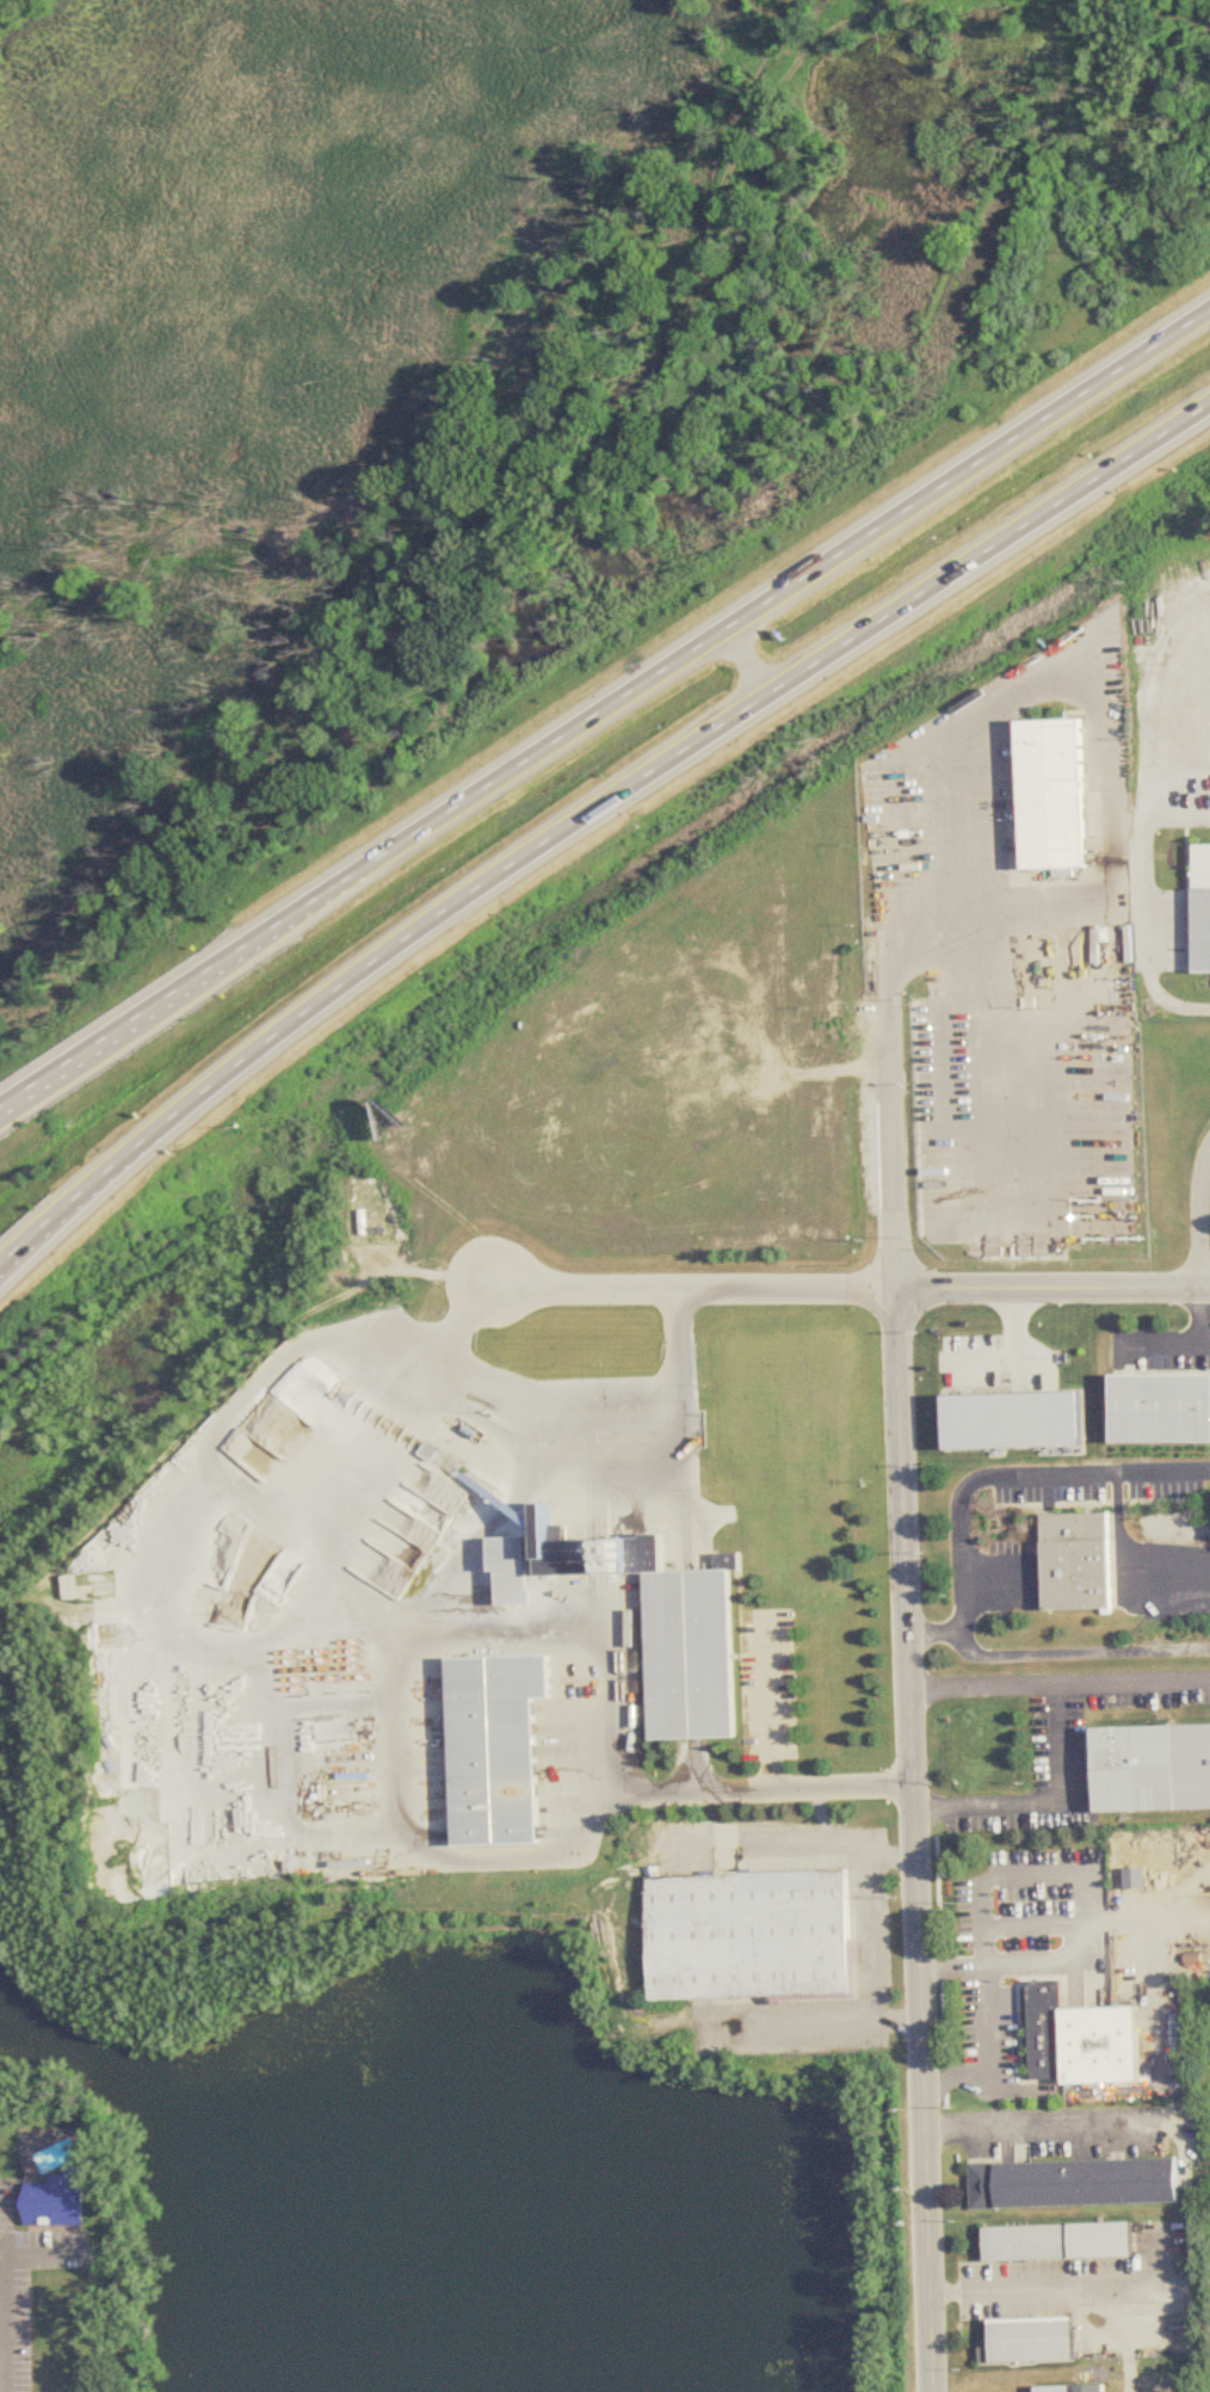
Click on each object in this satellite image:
road: (751, 660)
road: (604, 708)
road: (975, 726)
building: (1054, 796)
road: (589, 814)
road: (1144, 905)
building: (1203, 910)
building: (365, 1216)
road: (1203, 1226)
road: (893, 1251)
road: (693, 1289)
road: (1051, 1289)
road: (1199, 1345)
road: (1019, 1352)
building: (297, 1382)
road: (568, 1405)
building: (1161, 1410)
building: (1012, 1422)
road: (1014, 1474)
building: (1079, 1562)
building: (516, 1574)
road: (933, 1632)
road: (1078, 1652)
building: (692, 1656)
road: (1134, 1684)
road: (1058, 1738)
building: (499, 1749)
building: (1152, 1769)
road: (280, 1787)
road: (915, 1839)
road: (1013, 1918)
building: (749, 1936)
road: (871, 1942)
road: (982, 2020)
building: (1081, 2043)
road: (1047, 2122)
building: (1072, 2184)
building: (1060, 2243)
road: (4, 2254)
road: (44, 2256)
road: (4, 2257)
road: (1041, 2283)
road: (7, 2324)
road: (1121, 2331)
building: (1031, 2342)
building: (1073, 2388)

